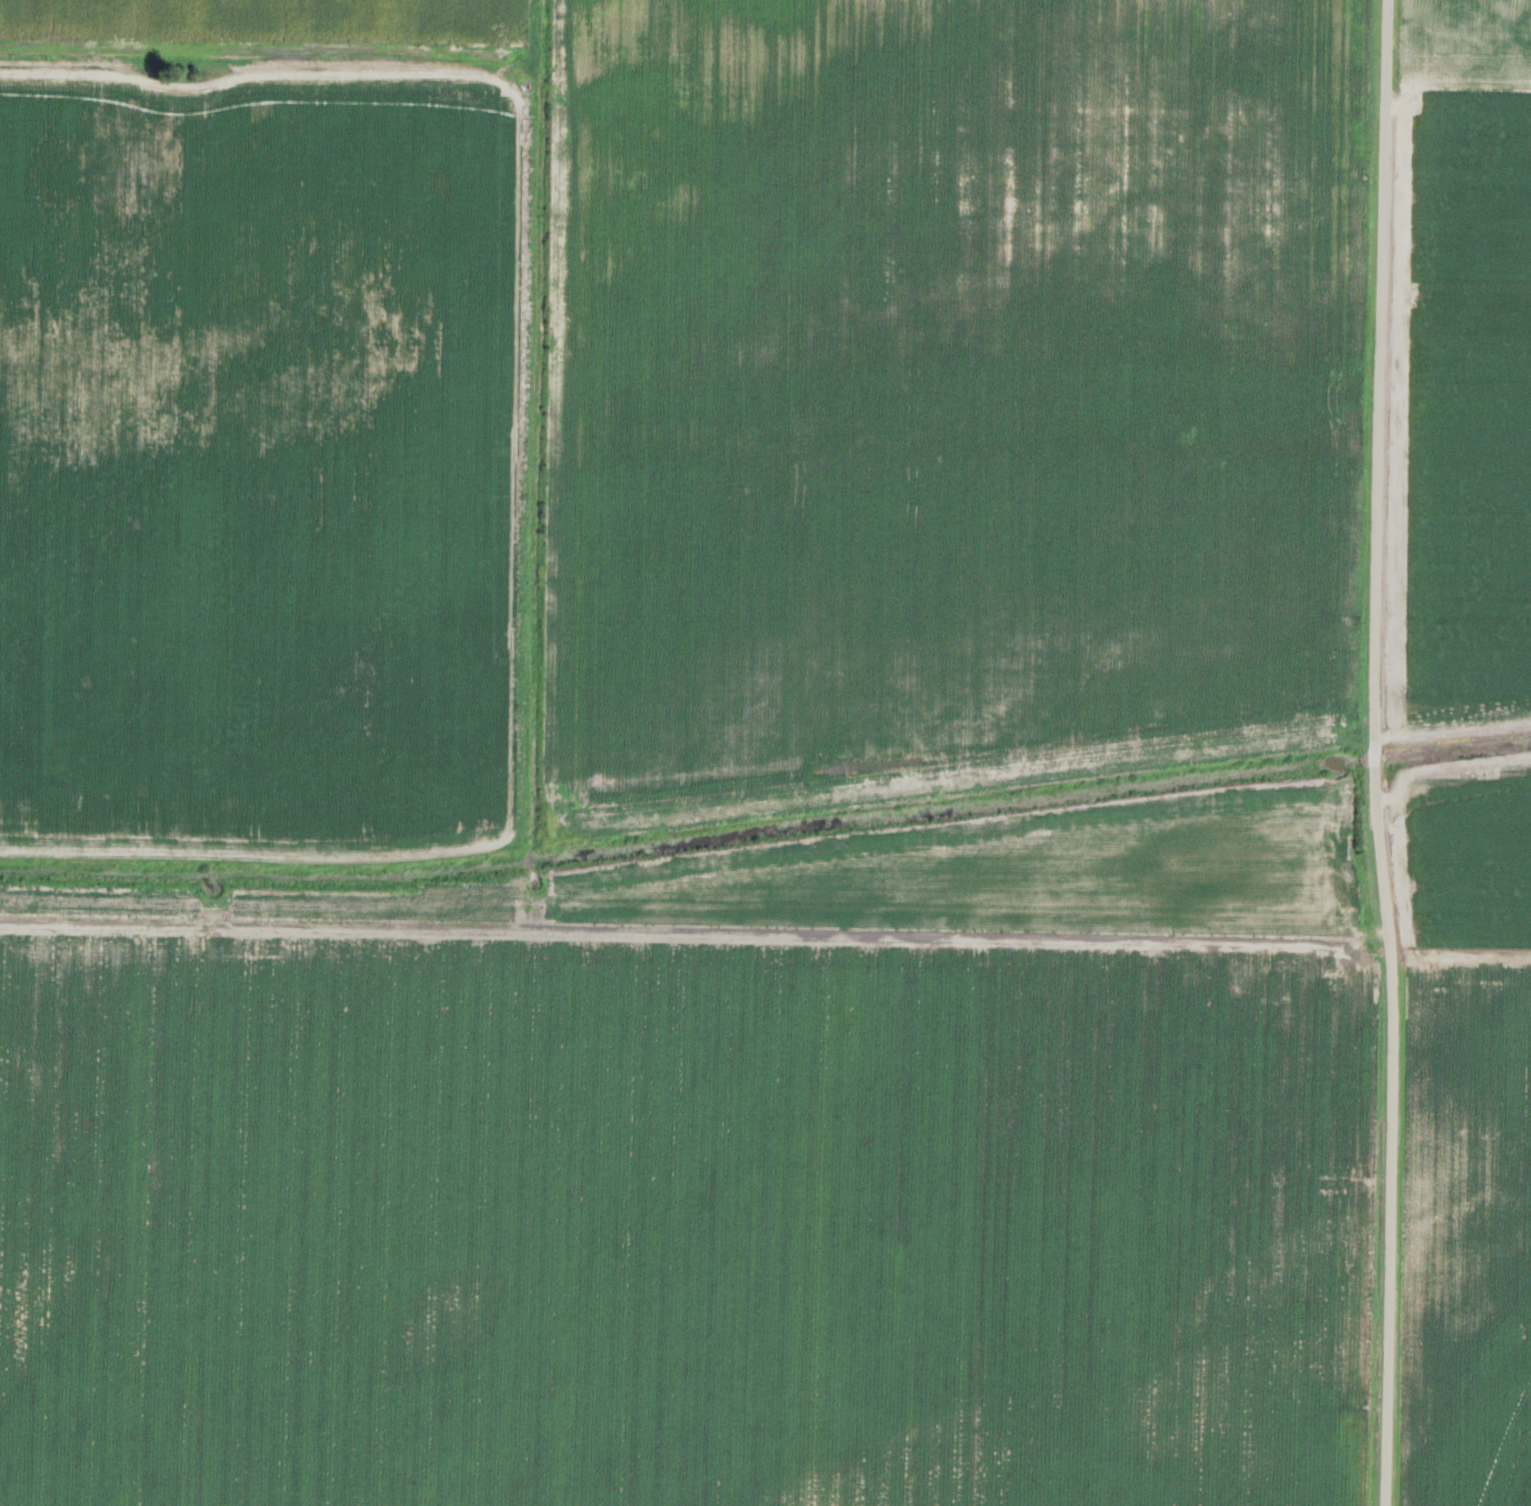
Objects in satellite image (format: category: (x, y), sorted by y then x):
road: (1371, 753)

